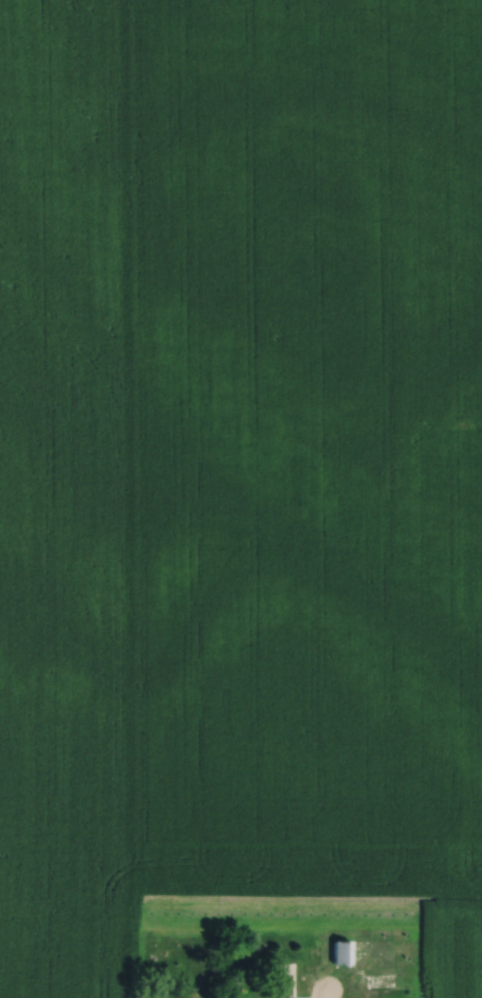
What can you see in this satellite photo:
crop: (239, 478)
building: (342, 951)
road: (326, 994)
building: (284, 996)

